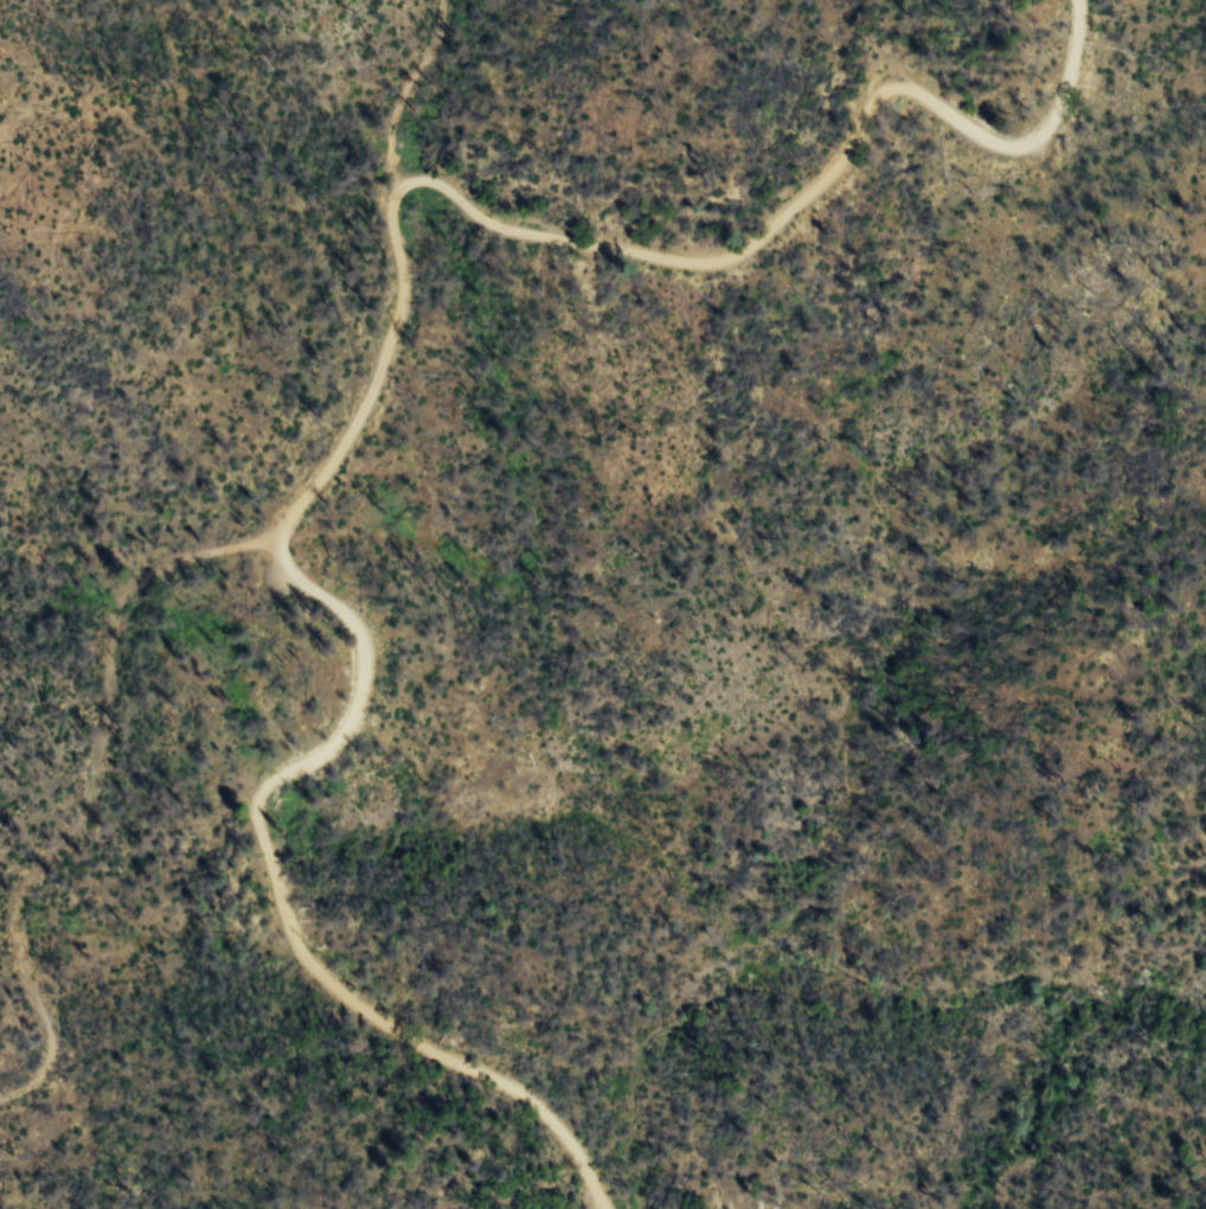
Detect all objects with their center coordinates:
road: (381, 376)

